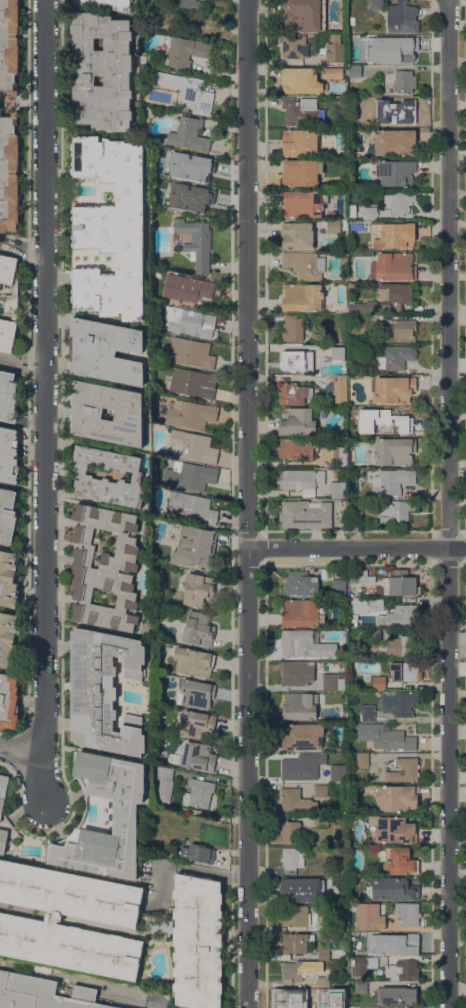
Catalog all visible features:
building: (108, 3)
building: (375, 4)
building: (192, 5)
building: (302, 14)
building: (402, 17)
building: (342, 21)
building: (388, 38)
building: (295, 46)
building: (407, 48)
building: (185, 51)
building: (335, 52)
building: (101, 71)
building: (355, 71)
building: (332, 72)
building: (301, 80)
building: (404, 83)
building: (186, 91)
building: (406, 109)
building: (302, 110)
building: (9, 116)
building: (377, 120)
building: (189, 134)
building: (300, 142)
building: (395, 142)
building: (158, 168)
building: (301, 172)
building: (395, 172)
building: (191, 178)
building: (159, 187)
building: (190, 197)
building: (399, 201)
building: (160, 203)
building: (304, 203)
building: (370, 212)
building: (333, 226)
building: (110, 228)
building: (397, 234)
building: (297, 235)
building: (196, 242)
building: (354, 247)
building: (343, 259)
building: (305, 264)
building: (393, 266)
building: (351, 286)
building: (188, 288)
building: (302, 296)
building: (395, 301)
building: (9, 302)
building: (189, 321)
building: (292, 327)
building: (402, 327)
building: (106, 351)
building: (192, 352)
building: (338, 352)
building: (396, 357)
road: (21, 358)
building: (293, 360)
building: (193, 382)
building: (340, 389)
building: (393, 389)
building: (292, 393)
building: (8, 396)
road: (43, 404)
building: (86, 413)
building: (190, 414)
building: (398, 416)
building: (297, 421)
building: (365, 427)
building: (194, 446)
building: (297, 448)
building: (395, 450)
building: (8, 454)
building: (340, 455)
building: (190, 475)
building: (84, 476)
building: (304, 481)
building: (392, 481)
building: (337, 487)
road: (448, 503)
road: (247, 504)
building: (191, 507)
building: (394, 510)
building: (305, 514)
building: (7, 515)
building: (355, 515)
building: (166, 540)
road: (357, 546)
building: (192, 547)
building: (105, 567)
building: (358, 575)
building: (8, 578)
building: (300, 583)
building: (400, 583)
building: (339, 587)
building: (197, 589)
building: (367, 604)
building: (300, 613)
building: (398, 616)
building: (198, 628)
building: (375, 634)
building: (8, 640)
building: (295, 640)
building: (398, 646)
building: (323, 650)
building: (193, 661)
building: (405, 671)
building: (297, 672)
building: (332, 682)
building: (379, 682)
building: (104, 691)
building: (196, 693)
building: (8, 700)
building: (399, 703)
building: (299, 706)
building: (368, 712)
building: (381, 717)
building: (196, 723)
building: (303, 736)
building: (385, 737)
road: (21, 756)
building: (196, 756)
building: (342, 756)
building: (362, 760)
building: (302, 766)
building: (404, 770)
building: (337, 772)
building: (164, 781)
building: (3, 790)
building: (321, 790)
building: (198, 793)
building: (397, 798)
building: (296, 801)
building: (125, 816)
building: (321, 821)
building: (395, 830)
building: (290, 831)
building: (3, 840)
building: (198, 853)
building: (291, 859)
building: (400, 861)
road: (186, 869)
road: (457, 872)
building: (302, 889)
building: (391, 889)
building: (407, 914)
building: (295, 915)
building: (369, 916)
building: (111, 918)
building: (333, 925)
building: (358, 936)
building: (198, 941)
building: (293, 943)
building: (403, 943)
building: (323, 954)
building: (366, 962)
building: (293, 970)
building: (403, 970)
building: (323, 982)
building: (361, 987)
building: (43, 993)
building: (396, 995)
building: (292, 999)
building: (314, 999)
building: (331, 1003)
building: (412, 1007)

